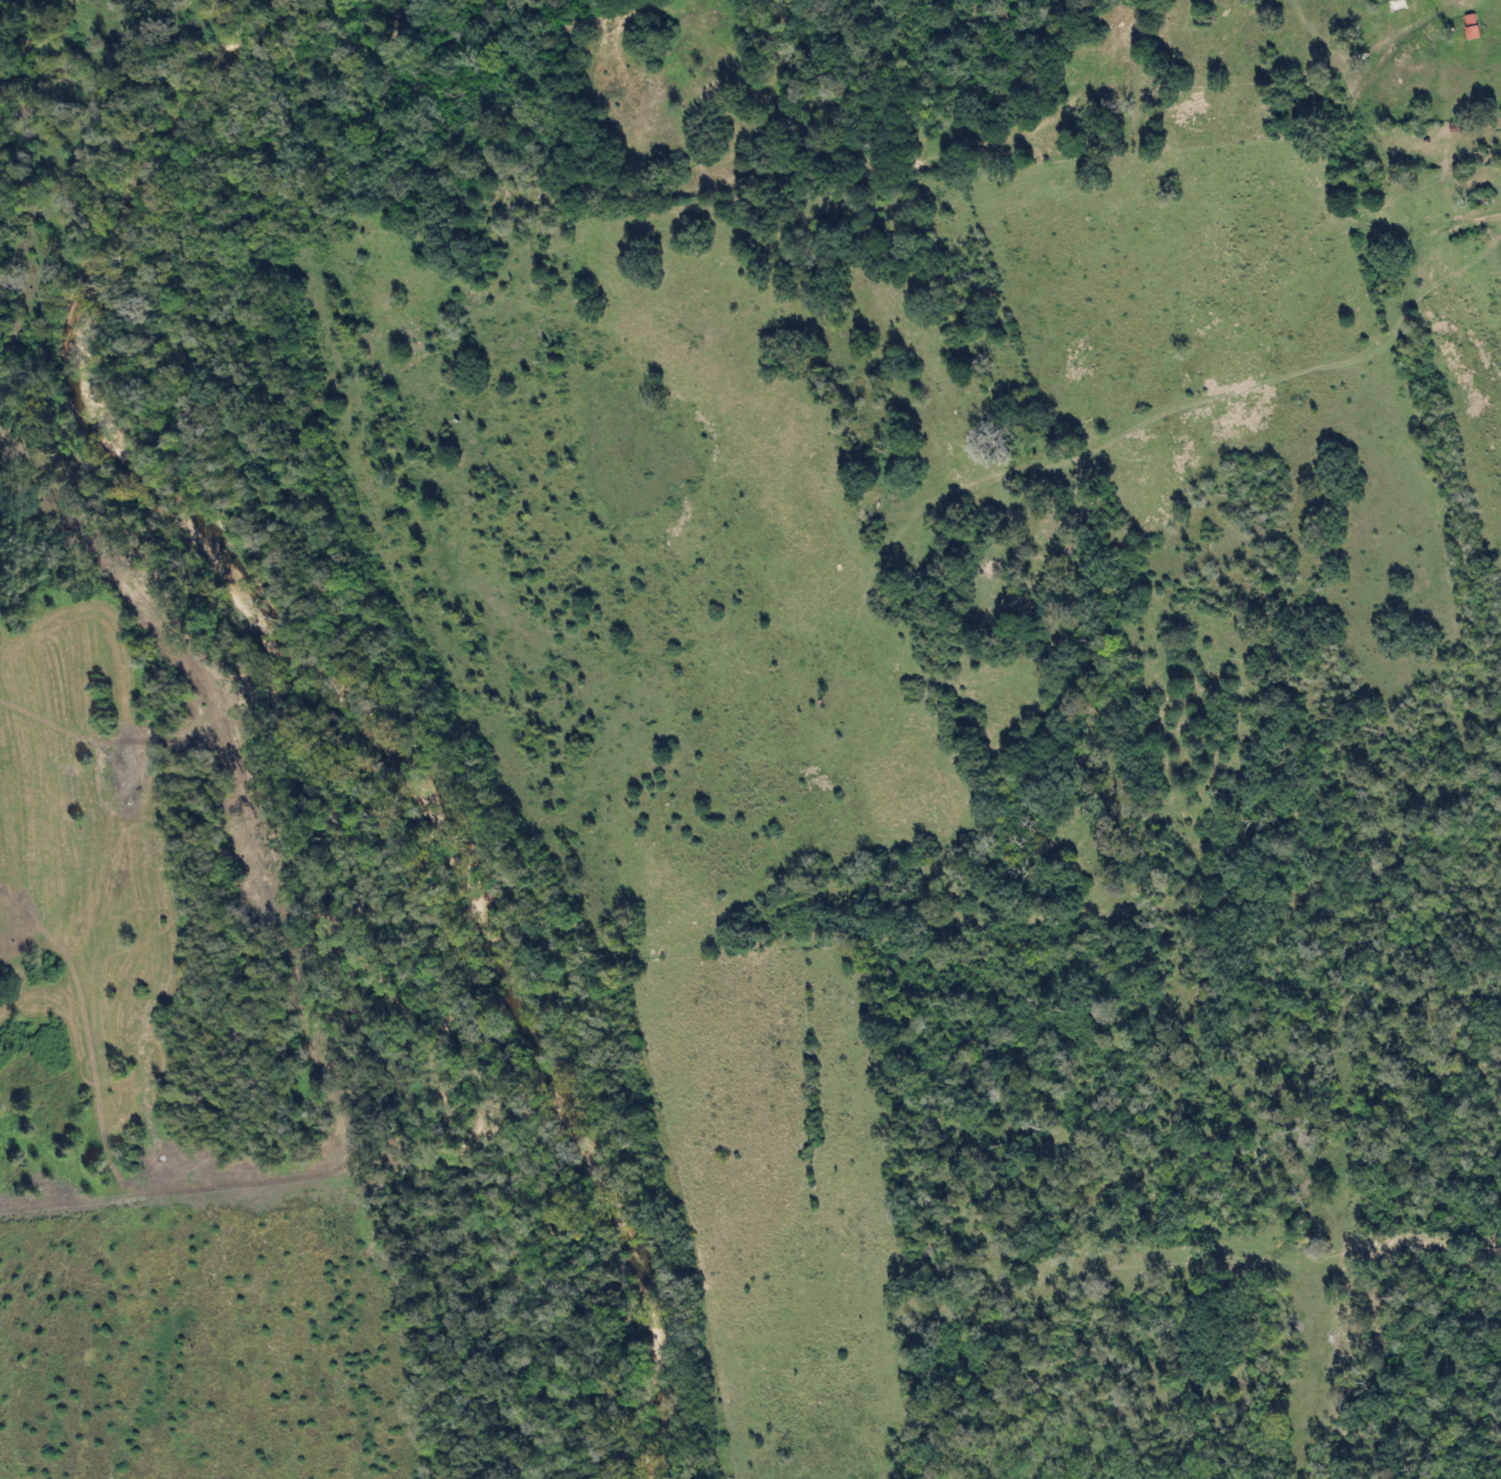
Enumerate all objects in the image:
building: (1467, 26)

